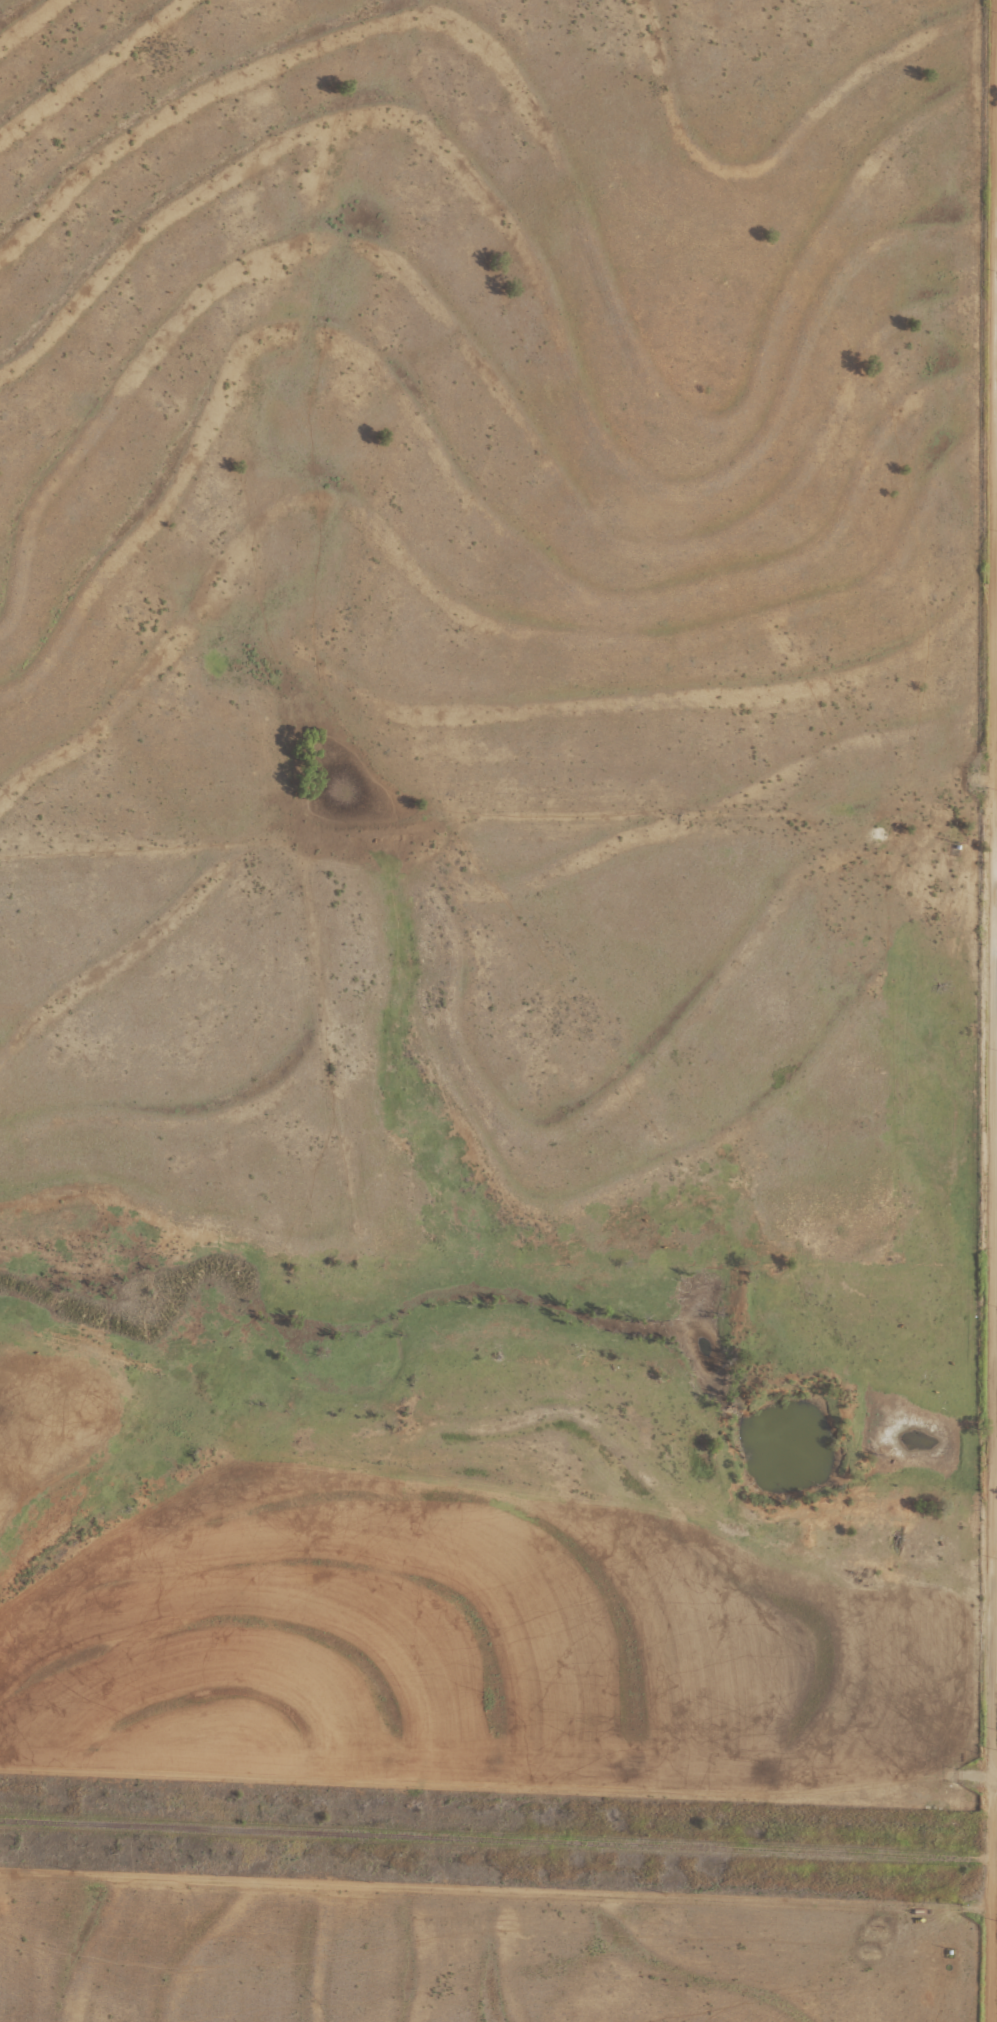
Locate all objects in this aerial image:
building: (876, 1505)
road: (996, 1676)
road: (996, 1775)

